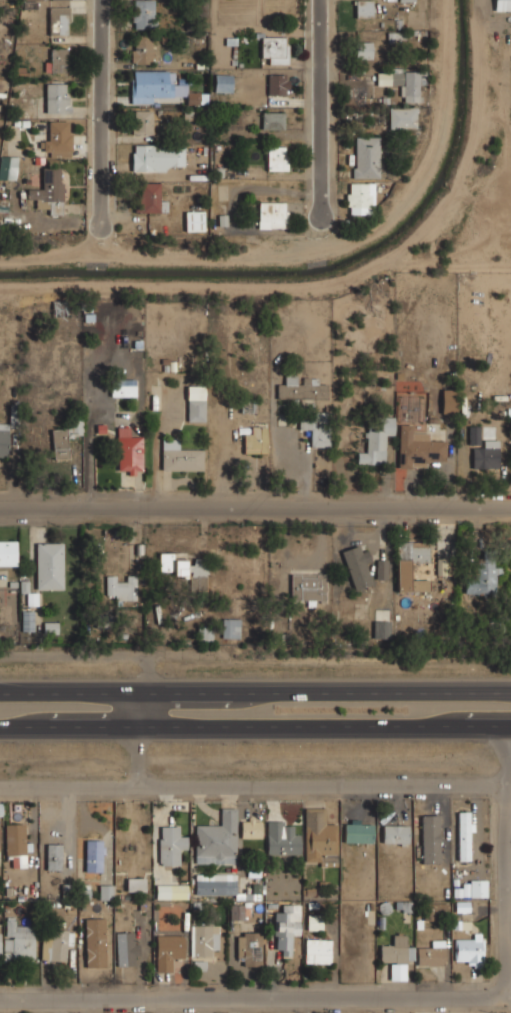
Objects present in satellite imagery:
building: (502, 5)
building: (363, 8)
building: (142, 13)
building: (58, 20)
building: (141, 48)
building: (274, 48)
building: (363, 48)
building: (57, 59)
building: (222, 82)
building: (400, 82)
building: (277, 84)
building: (158, 86)
building: (57, 96)
road: (328, 103)
road: (101, 104)
building: (402, 116)
building: (272, 119)
building: (141, 121)
building: (58, 137)
building: (366, 156)
building: (157, 157)
building: (276, 157)
building: (8, 168)
building: (48, 190)
building: (358, 194)
building: (147, 197)
building: (271, 214)
building: (194, 219)
building: (122, 387)
building: (301, 387)
building: (448, 400)
building: (195, 402)
building: (317, 427)
building: (474, 435)
building: (376, 438)
building: (255, 439)
building: (4, 440)
building: (59, 443)
building: (417, 447)
building: (128, 449)
building: (486, 455)
building: (179, 457)
road: (255, 507)
building: (8, 551)
building: (410, 564)
building: (49, 565)
building: (357, 566)
building: (439, 567)
building: (380, 568)
building: (186, 569)
building: (482, 579)
building: (307, 586)
building: (120, 587)
building: (31, 597)
building: (27, 620)
building: (230, 627)
building: (50, 628)
building: (380, 628)
building: (204, 633)
road: (93, 653)
road: (255, 691)
road: (142, 709)
road: (255, 725)
road: (300, 783)
building: (250, 827)
building: (357, 832)
building: (395, 833)
building: (317, 835)
building: (464, 835)
building: (280, 837)
building: (216, 838)
building: (430, 838)
building: (170, 844)
building: (15, 845)
building: (93, 854)
building: (53, 856)
road: (505, 882)
building: (135, 883)
building: (215, 883)
building: (475, 888)
building: (171, 890)
building: (105, 891)
building: (463, 906)
building: (237, 910)
building: (285, 927)
building: (17, 939)
building: (95, 942)
building: (201, 943)
building: (55, 944)
building: (469, 947)
building: (127, 948)
building: (249, 948)
building: (167, 950)
building: (317, 950)
building: (396, 950)
building: (431, 953)
road: (307, 999)

